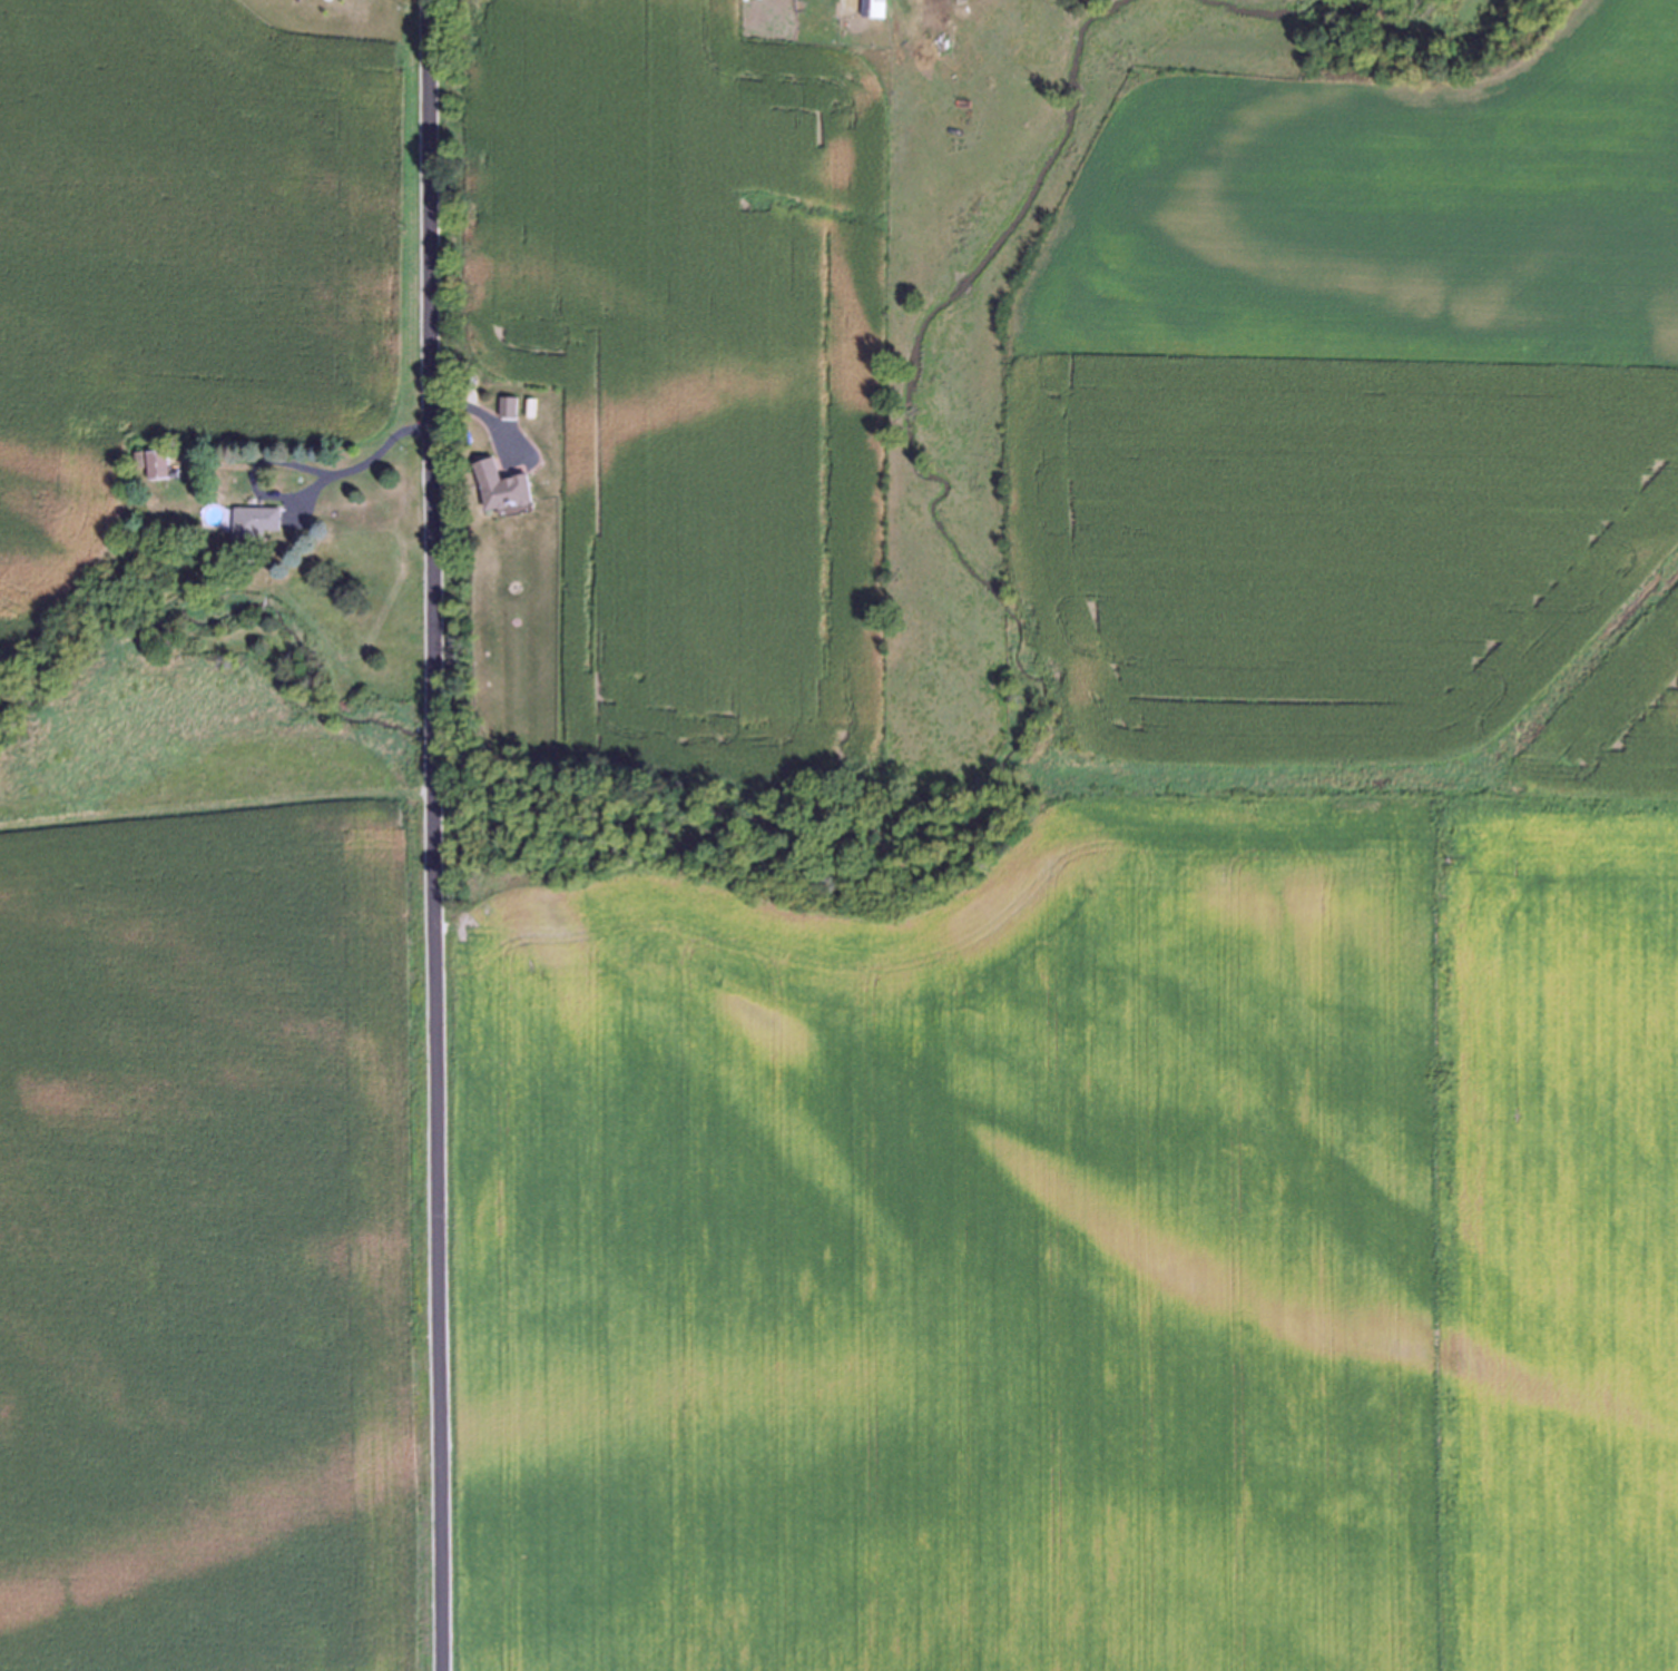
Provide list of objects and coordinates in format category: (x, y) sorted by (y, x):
building: (875, 8)
building: (511, 406)
road: (485, 414)
building: (163, 463)
building: (506, 486)
road: (302, 493)
building: (258, 522)
road: (430, 835)

